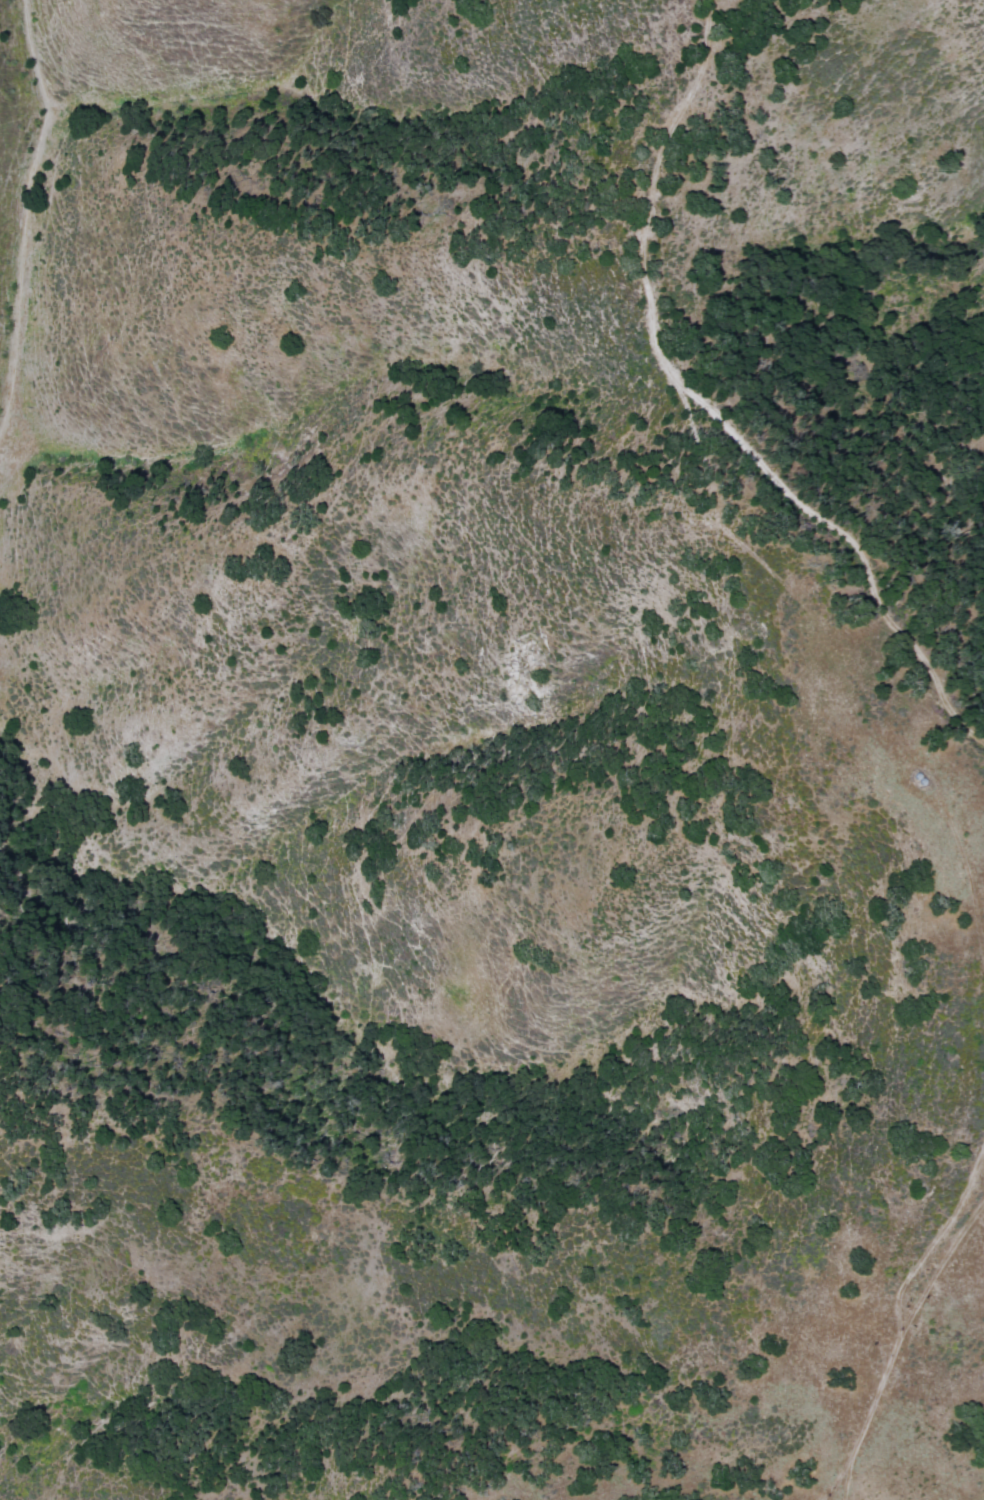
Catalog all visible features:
road: (707, 405)
road: (894, 1344)

